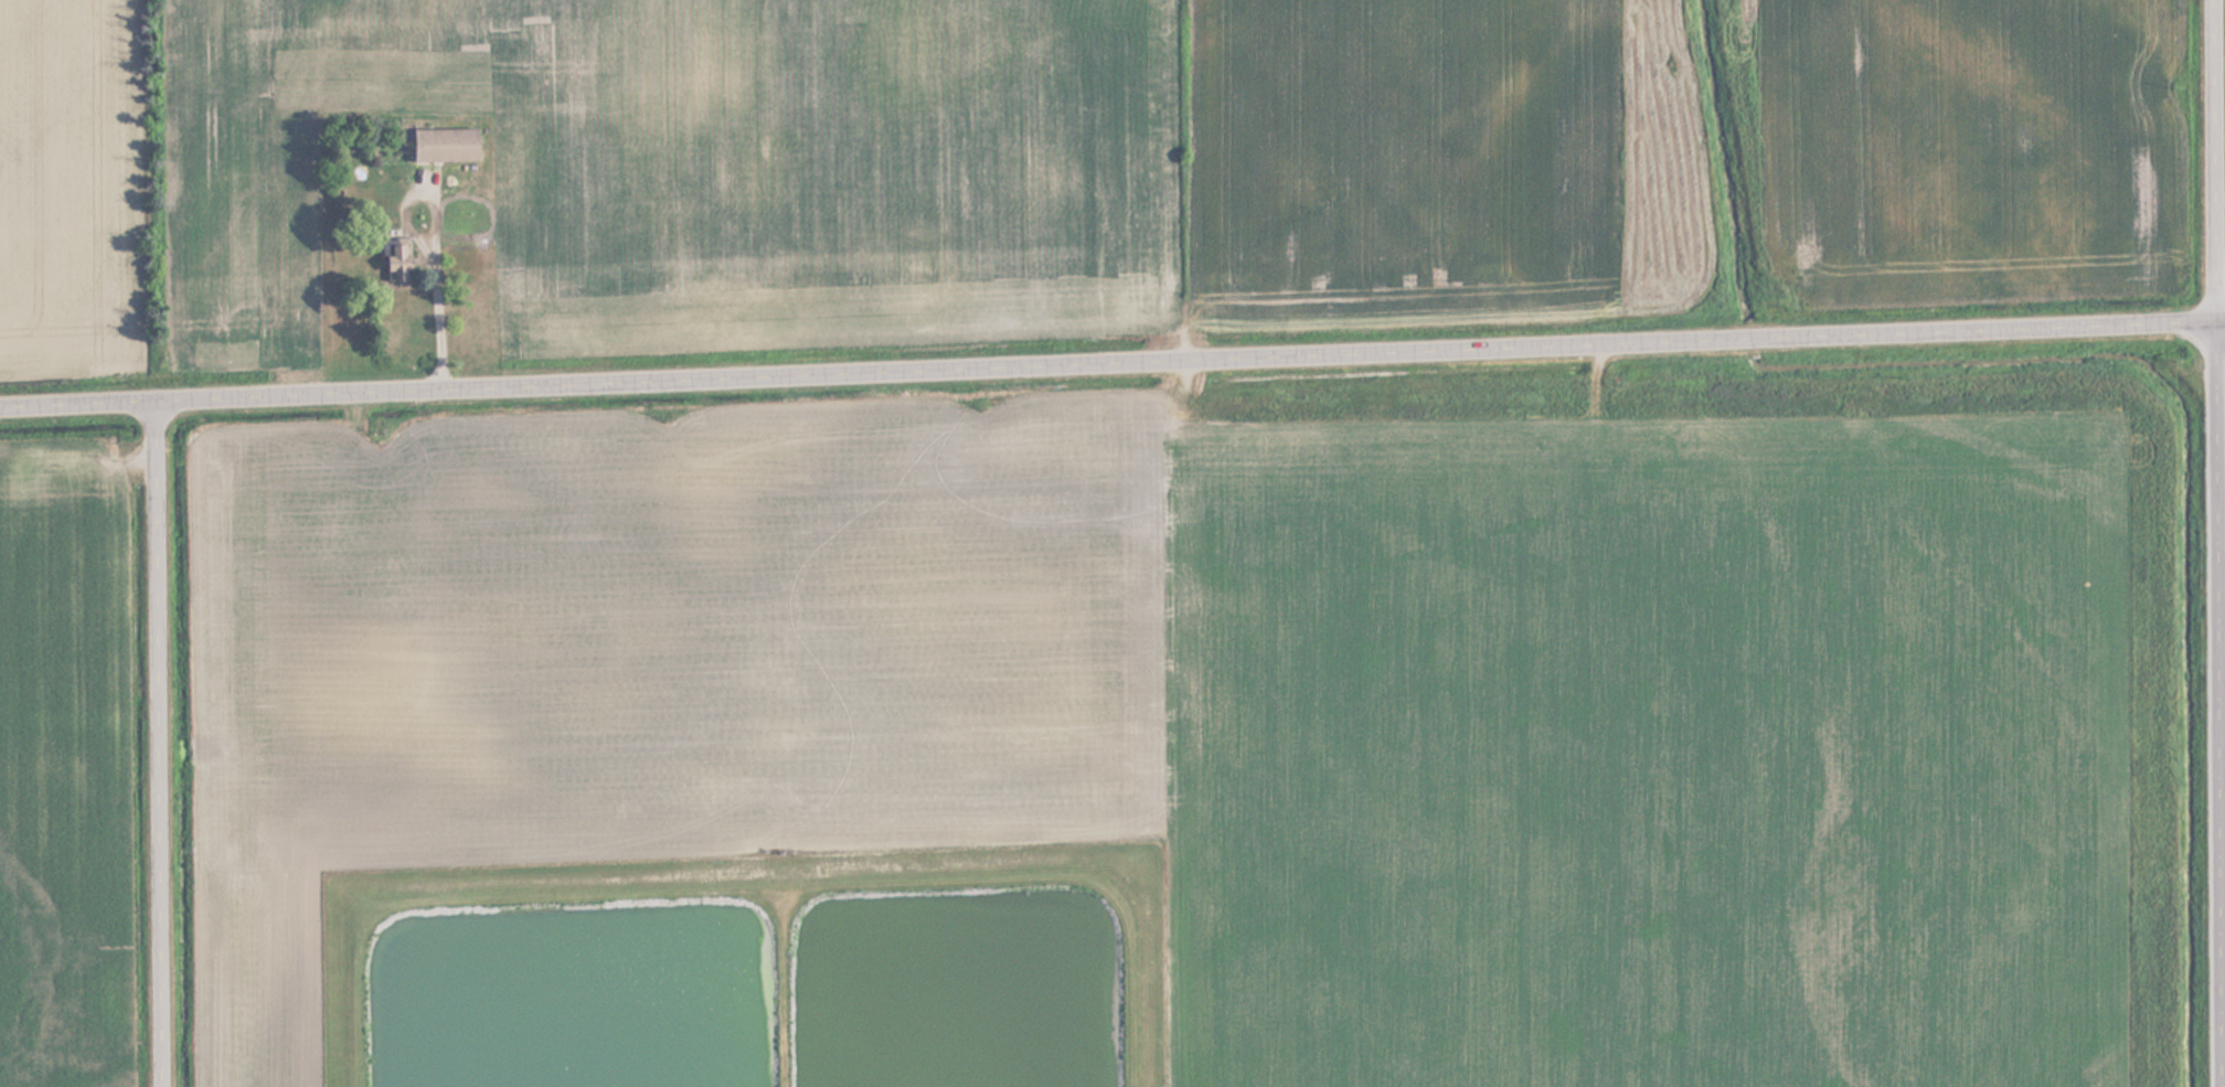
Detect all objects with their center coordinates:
building: (445, 145)
building: (397, 262)
road: (1111, 363)
road: (2218, 543)
road: (164, 743)

